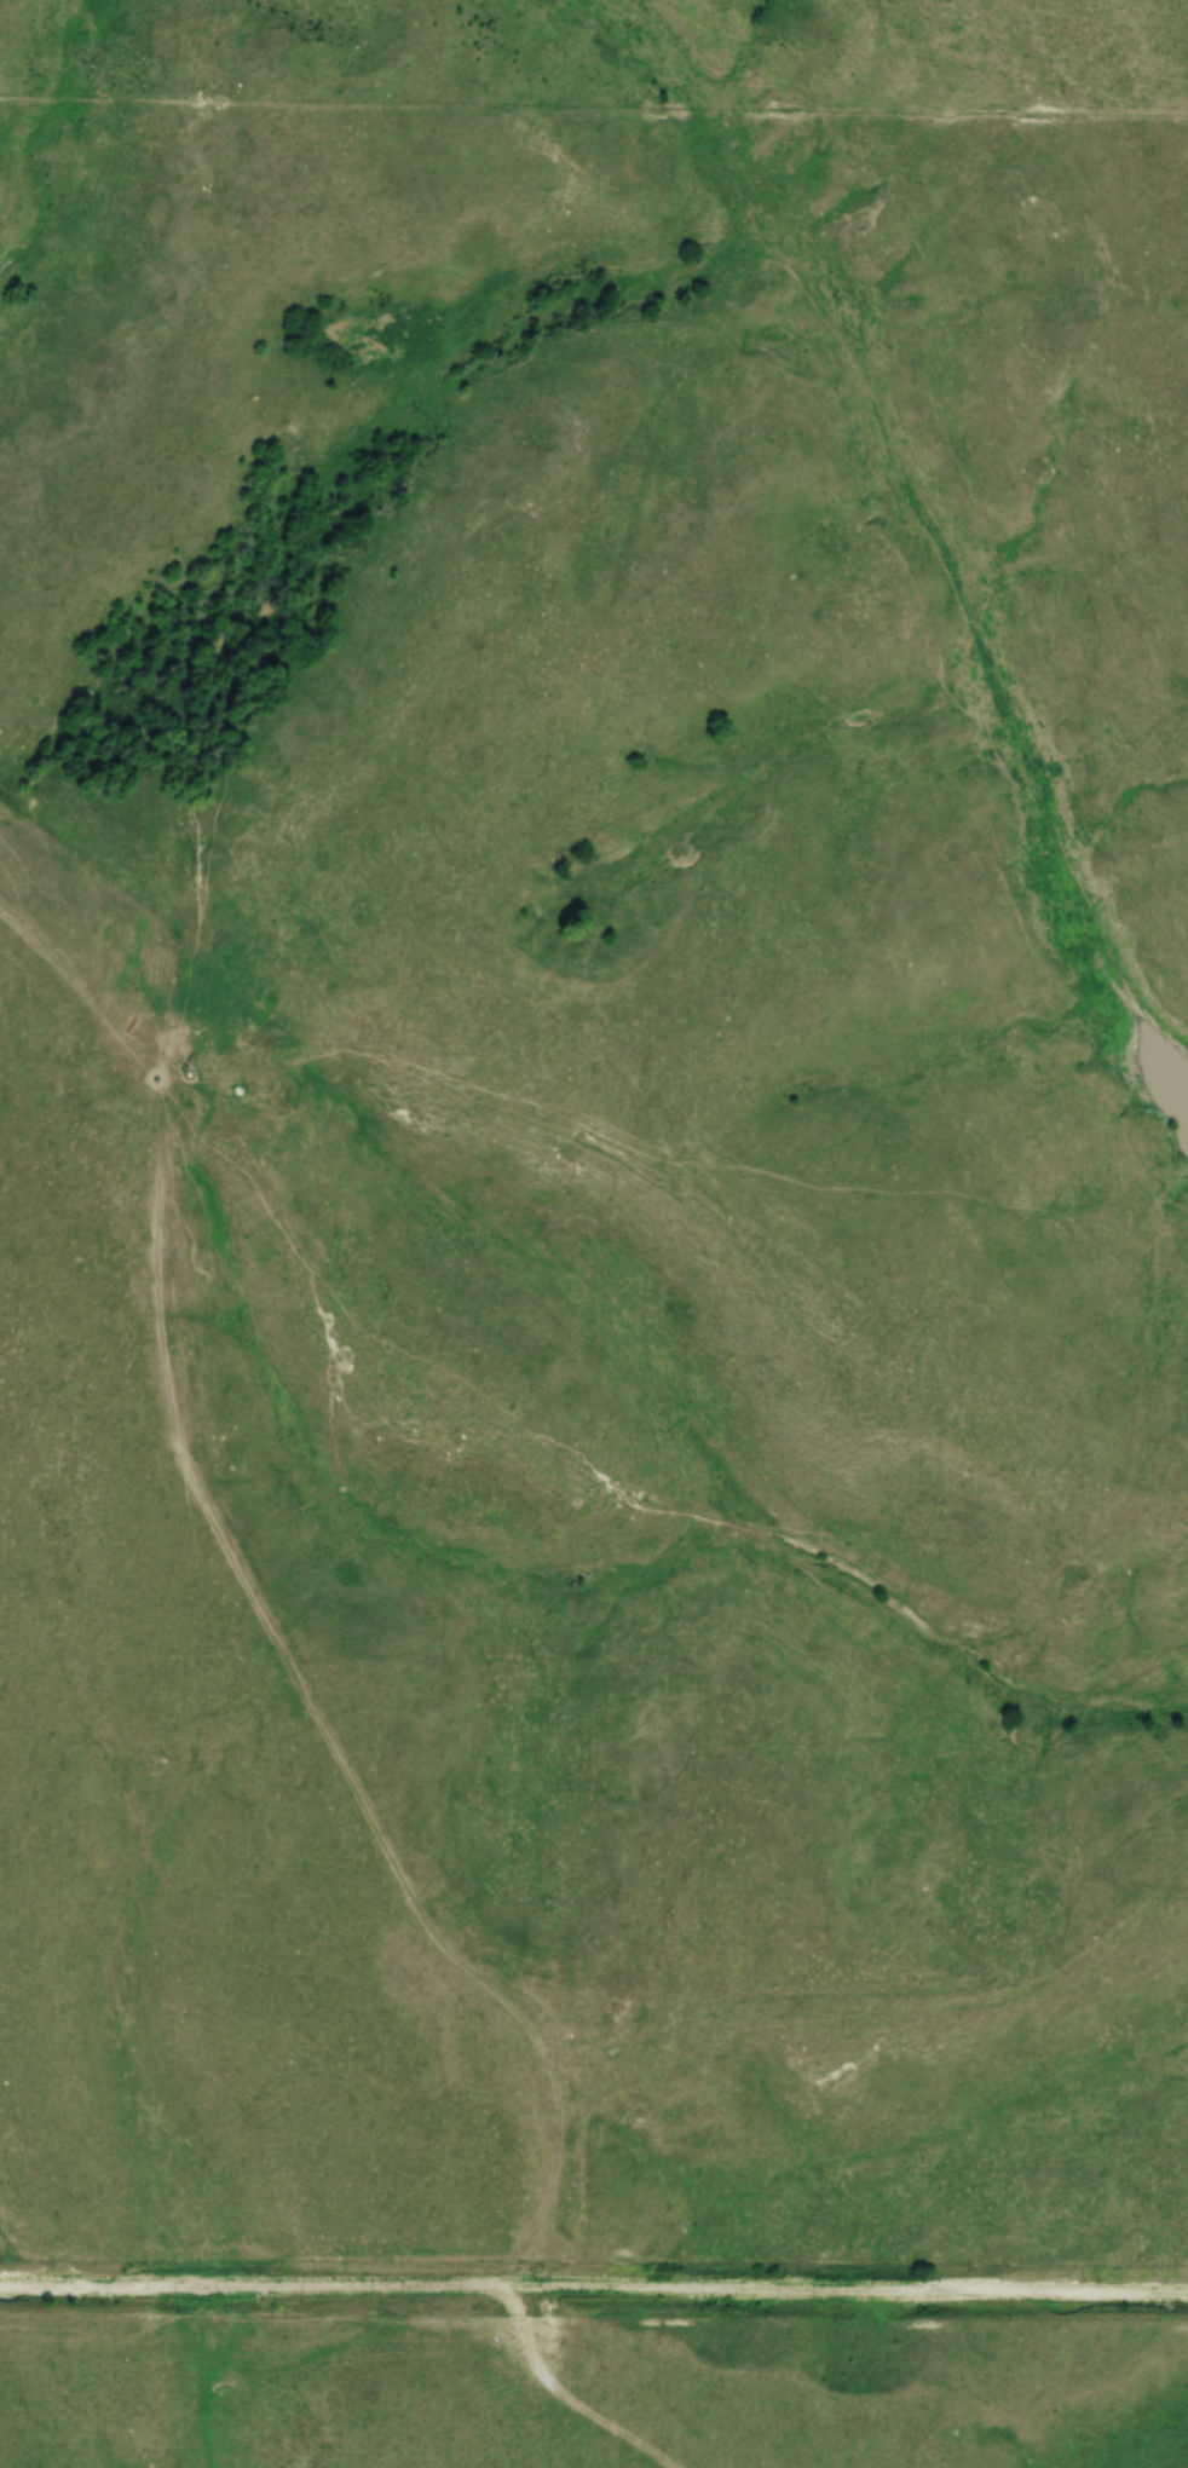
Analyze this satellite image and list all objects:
road: (594, 2288)

